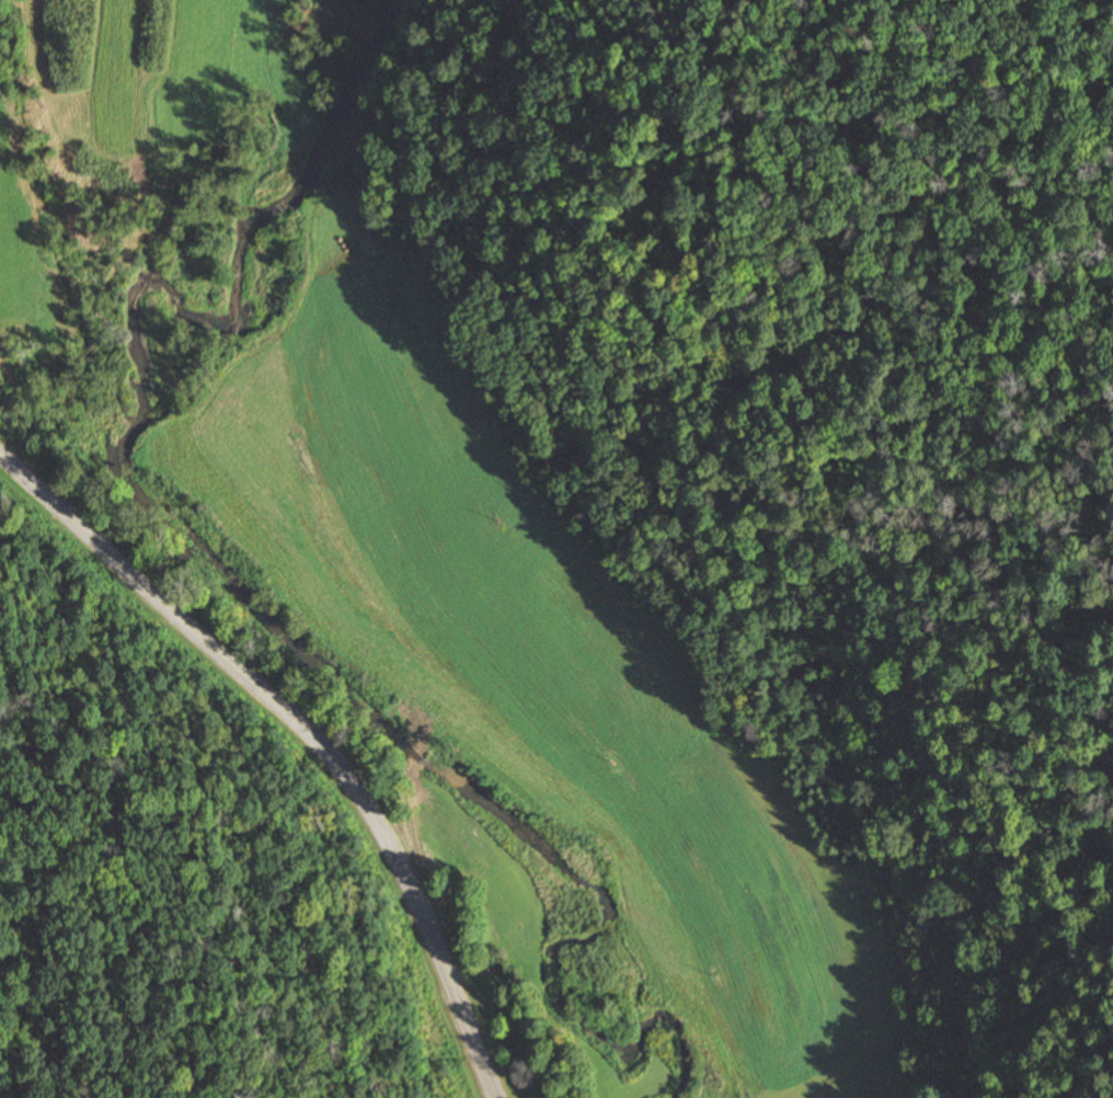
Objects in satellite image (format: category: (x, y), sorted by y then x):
crop: (566, 725)
road: (307, 729)

